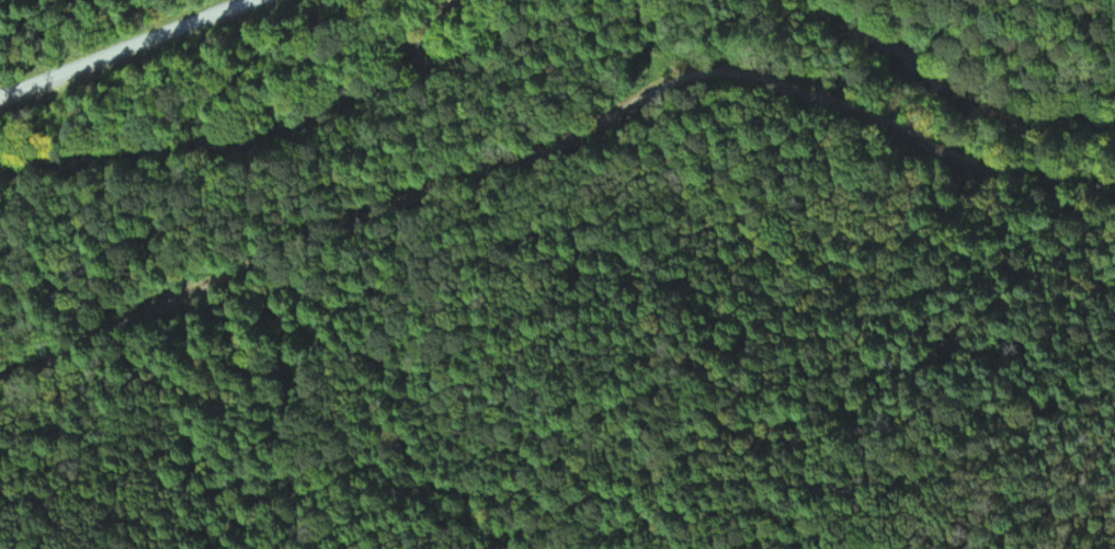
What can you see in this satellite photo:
road: (123, 47)

